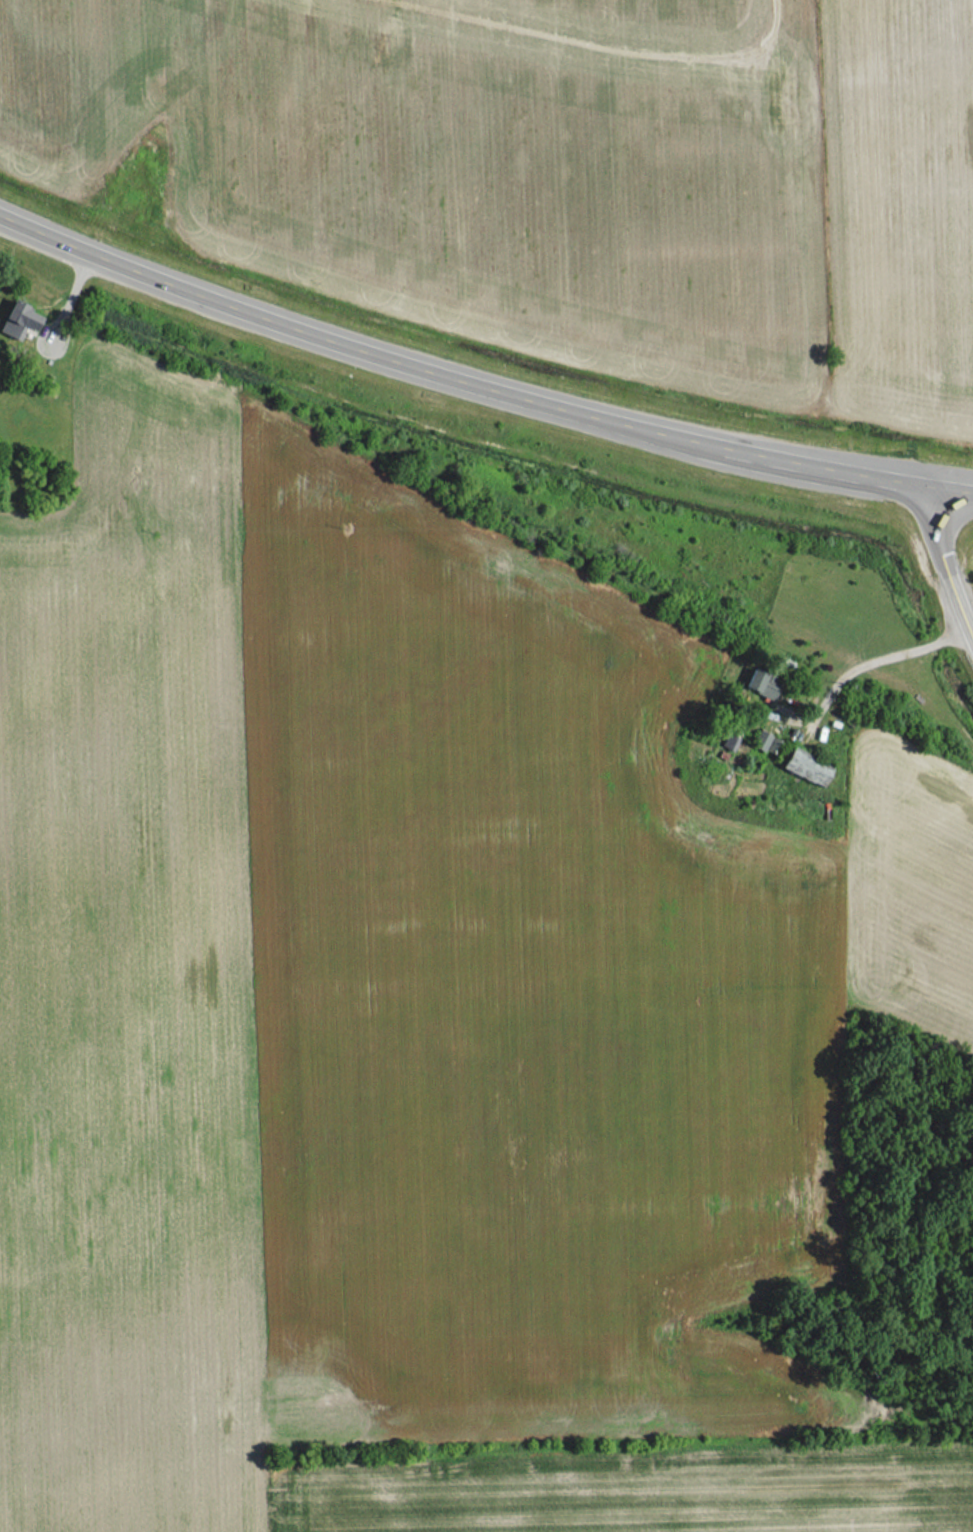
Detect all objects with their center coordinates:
building: (19, 320)
road: (475, 386)
road: (948, 561)
road: (883, 658)
building: (762, 684)
building: (764, 742)
building: (808, 768)

